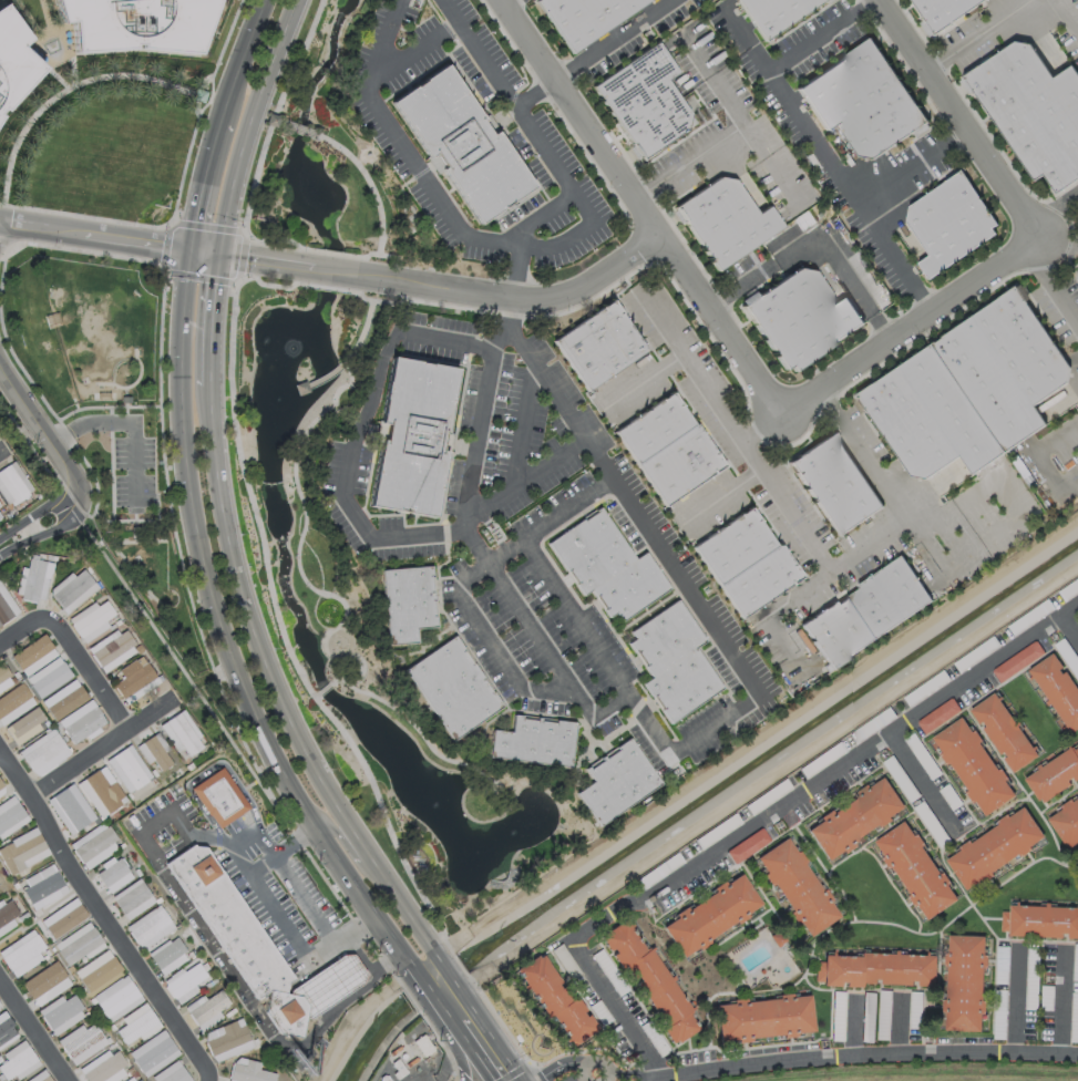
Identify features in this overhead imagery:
parking lot: (0, 0)
road: (510, 3)
building: (947, 10)
building: (777, 14)
road: (1066, 16)
building: (587, 18)
building: (140, 25)
road: (820, 37)
road: (978, 37)
road: (65, 38)
road: (618, 41)
road: (37, 45)
fountain: (50, 45)
road: (243, 56)
road: (409, 58)
building: (14, 63)
road: (70, 87)
road: (533, 96)
building: (647, 103)
building: (866, 103)
road: (276, 112)
building: (1034, 112)
road: (955, 120)
road: (247, 123)
road: (284, 123)
road: (306, 131)
road: (727, 137)
building: (462, 145)
road: (830, 163)
road: (763, 171)
road: (913, 172)
road: (199, 181)
road: (371, 189)
road: (638, 209)
road: (1054, 215)
road: (537, 217)
building: (727, 223)
building: (951, 225)
road: (151, 226)
road: (205, 226)
road: (133, 240)
road: (274, 240)
road: (814, 244)
road: (1058, 244)
road: (164, 246)
road: (531, 246)
traffic signals: (187, 249)
traffic signals: (217, 254)
road: (335, 254)
road: (240, 256)
road: (338, 272)
road: (516, 272)
road: (198, 276)
road: (275, 285)
road: (1054, 287)
road: (331, 288)
road: (542, 301)
building: (51, 319)
road: (209, 319)
building: (802, 320)
road: (910, 329)
building: (600, 346)
road: (157, 353)
road: (343, 364)
road: (322, 379)
road: (645, 381)
road: (131, 382)
building: (302, 388)
road: (705, 389)
building: (102, 394)
building: (974, 394)
building: (124, 399)
road: (72, 403)
road: (123, 404)
road: (125, 422)
park: (115, 431)
road: (523, 431)
road: (39, 432)
building: (415, 439)
building: (670, 450)
road: (1, 456)
road: (1041, 457)
road: (83, 462)
road: (109, 463)
parking lot: (132, 474)
building: (12, 484)
building: (838, 486)
road: (897, 495)
road: (722, 498)
road: (350, 501)
building: (1, 513)
building: (0, 516)
road: (39, 519)
road: (134, 519)
road: (551, 519)
road: (1009, 524)
road: (148, 540)
road: (119, 555)
building: (748, 564)
road: (819, 565)
building: (608, 567)
building: (35, 580)
road: (314, 588)
building: (74, 589)
road: (187, 597)
building: (405, 603)
building: (6, 607)
building: (869, 614)
building: (93, 619)
road: (576, 621)
road: (280, 625)
road: (1071, 629)
road: (220, 636)
road: (491, 644)
building: (109, 645)
building: (31, 652)
building: (1018, 660)
building: (675, 663)
building: (3, 677)
road: (339, 677)
building: (48, 678)
building: (134, 680)
building: (1058, 687)
building: (450, 688)
road: (324, 689)
road: (279, 690)
building: (64, 699)
road: (106, 699)
building: (13, 702)
road: (147, 714)
building: (940, 714)
building: (82, 723)
building: (23, 725)
building: (1004, 731)
building: (183, 735)
building: (532, 741)
road: (691, 747)
building: (42, 752)
building: (156, 753)
building: (974, 764)
building: (129, 769)
road: (208, 770)
road: (14, 774)
building: (1055, 774)
building: (614, 782)
road: (924, 782)
building: (1, 787)
building: (103, 792)
building: (219, 797)
building: (8, 806)
building: (70, 811)
building: (856, 817)
road: (761, 819)
building: (1067, 822)
building: (94, 845)
building: (747, 845)
building: (995, 845)
building: (21, 847)
road: (349, 850)
road: (242, 861)
building: (916, 867)
road: (164, 872)
building: (113, 874)
building: (797, 885)
building: (42, 887)
building: (0, 888)
building: (132, 899)
road: (306, 899)
building: (8, 914)
building: (711, 915)
building: (63, 918)
building: (1044, 919)
road: (283, 923)
building: (150, 927)
building: (779, 938)
road: (117, 939)
building: (18, 943)
building: (257, 945)
building: (79, 946)
building: (168, 955)
building: (565, 961)
building: (1002, 965)
road: (372, 966)
building: (876, 967)
road: (311, 968)
building: (97, 970)
building: (41, 980)
building: (186, 981)
building: (966, 981)
building: (651, 982)
road: (324, 987)
road: (443, 991)
building: (111, 992)
building: (557, 999)
road: (1017, 1003)
road: (335, 1006)
building: (58, 1007)
building: (208, 1008)
road: (1061, 1008)
road: (332, 1011)
building: (766, 1019)
building: (2, 1020)
building: (135, 1027)
road: (900, 1028)
road: (32, 1029)
road: (854, 1029)
building: (227, 1039)
building: (80, 1040)
road: (463, 1049)
road: (483, 1049)
building: (153, 1053)
building: (17, 1060)
road: (842, 1060)
building: (103, 1068)
building: (250, 1071)
building: (177, 1075)
building: (47, 1079)
building: (131, 1079)

